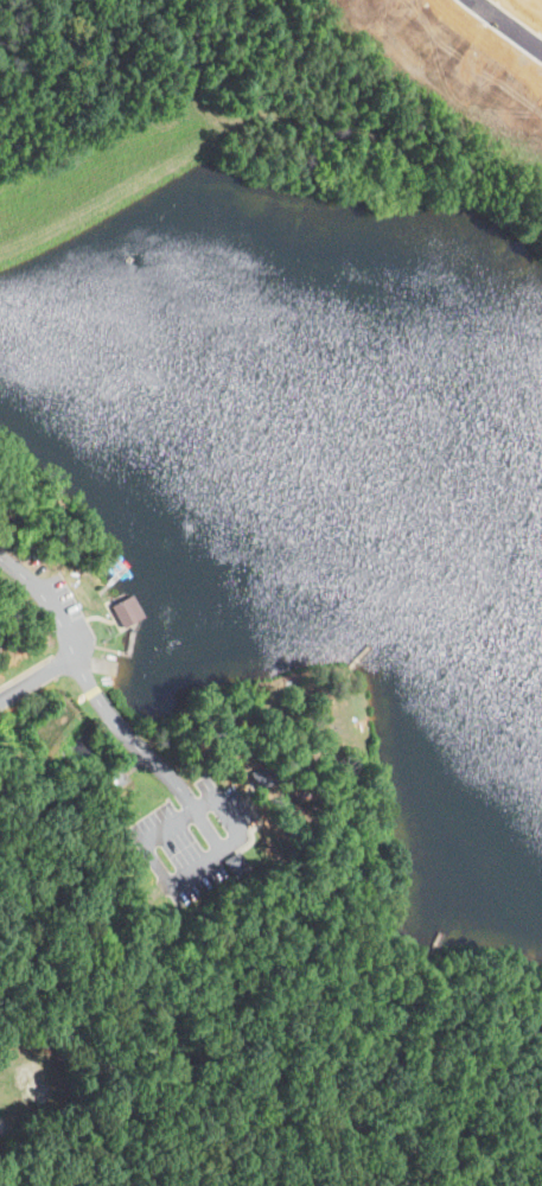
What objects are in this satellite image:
building: (404, 4)
road: (519, 17)
building: (439, 24)
building: (482, 53)
building: (519, 82)
building: (125, 612)
park: (260, 636)
road: (36, 678)
road: (83, 680)
building: (263, 774)
road: (205, 830)
parking lot: (191, 840)
building: (235, 865)
road: (180, 878)
road: (388, 971)
road: (65, 1035)
road: (293, 1050)

